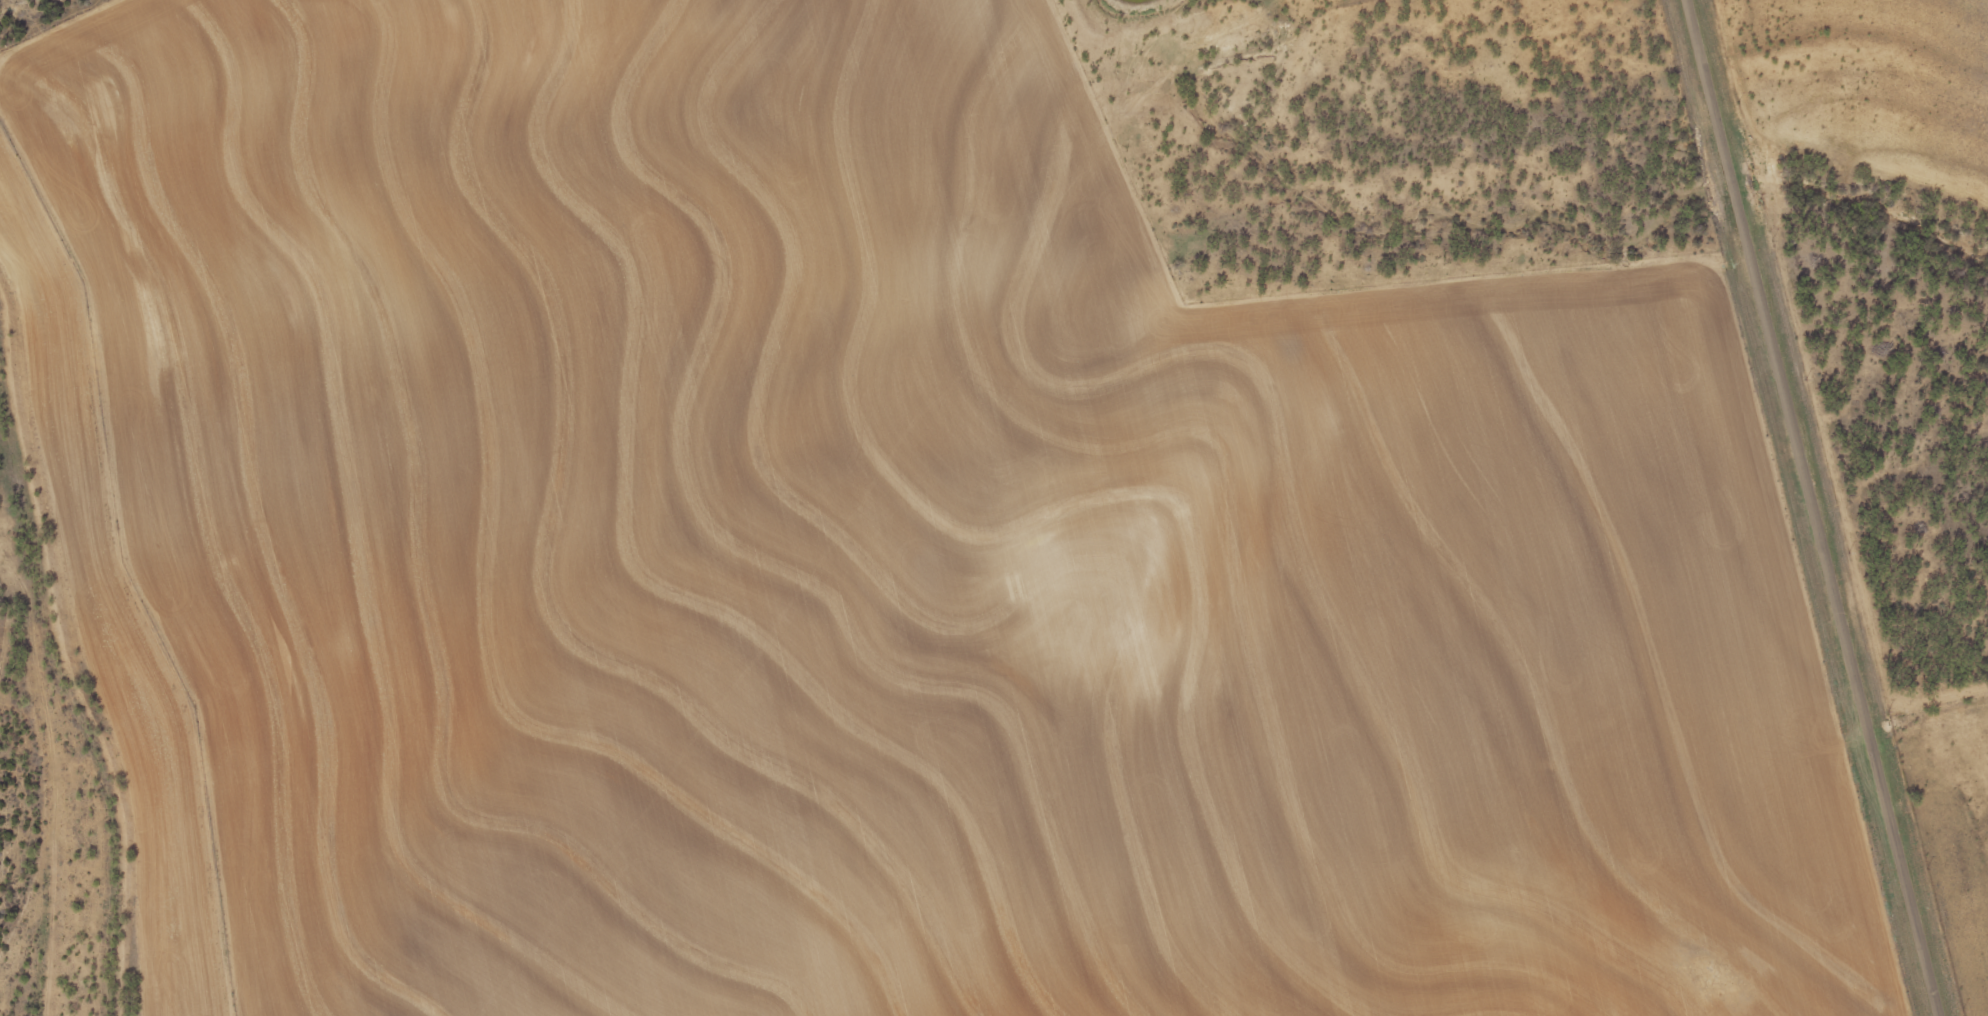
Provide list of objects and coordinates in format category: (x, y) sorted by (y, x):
road: (1817, 508)

